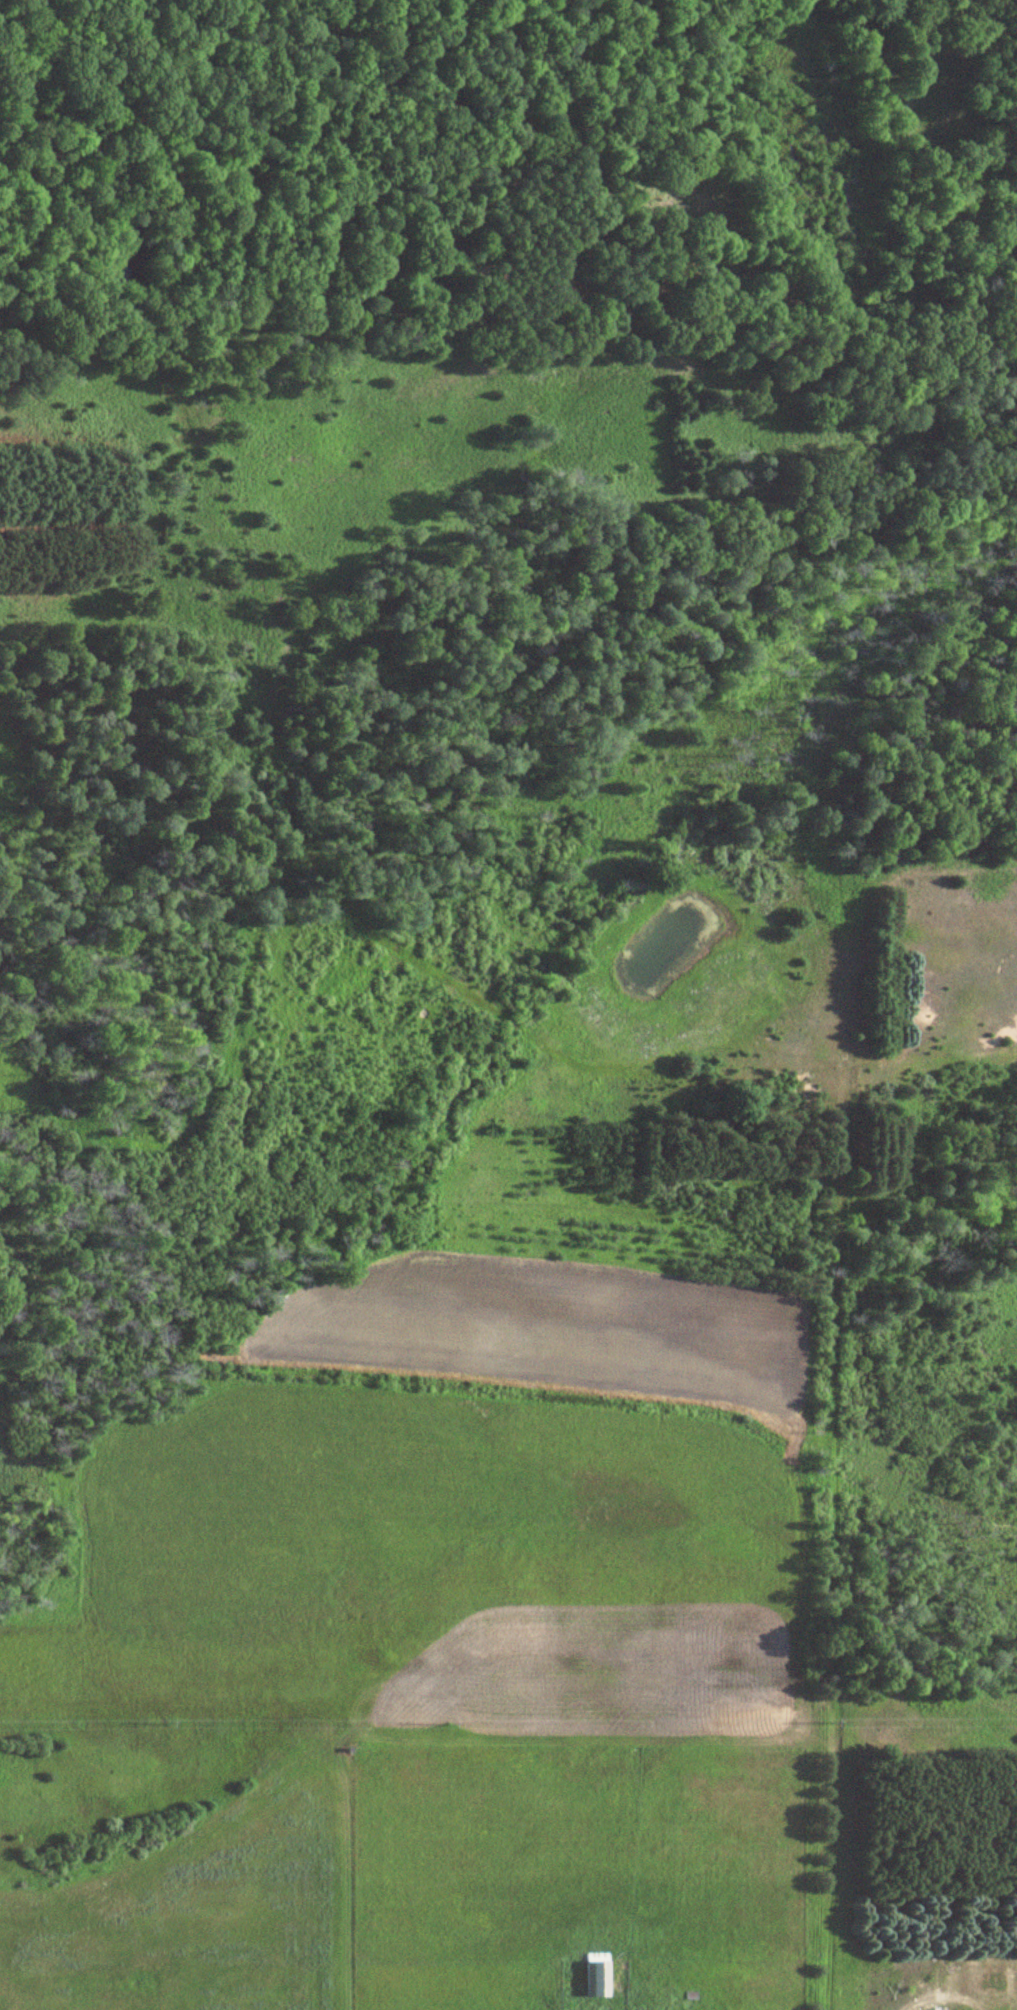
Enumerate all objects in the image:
building: (594, 1975)

